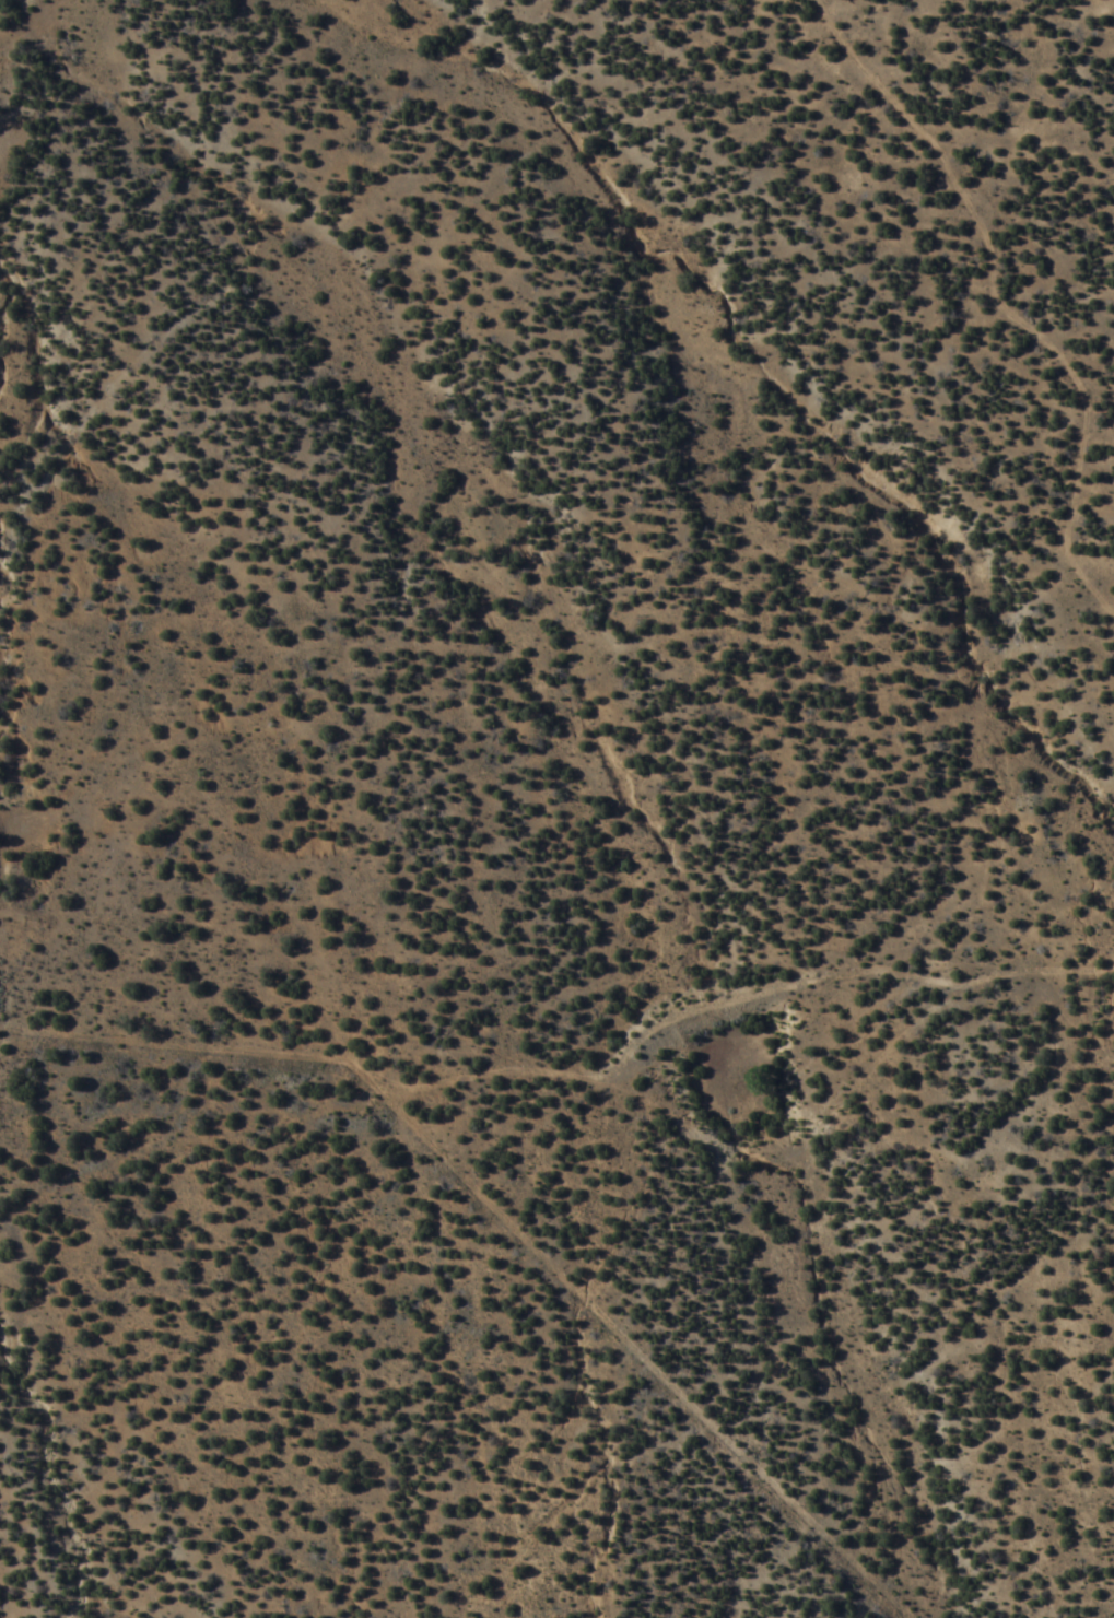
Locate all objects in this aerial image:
road: (591, 1122)

